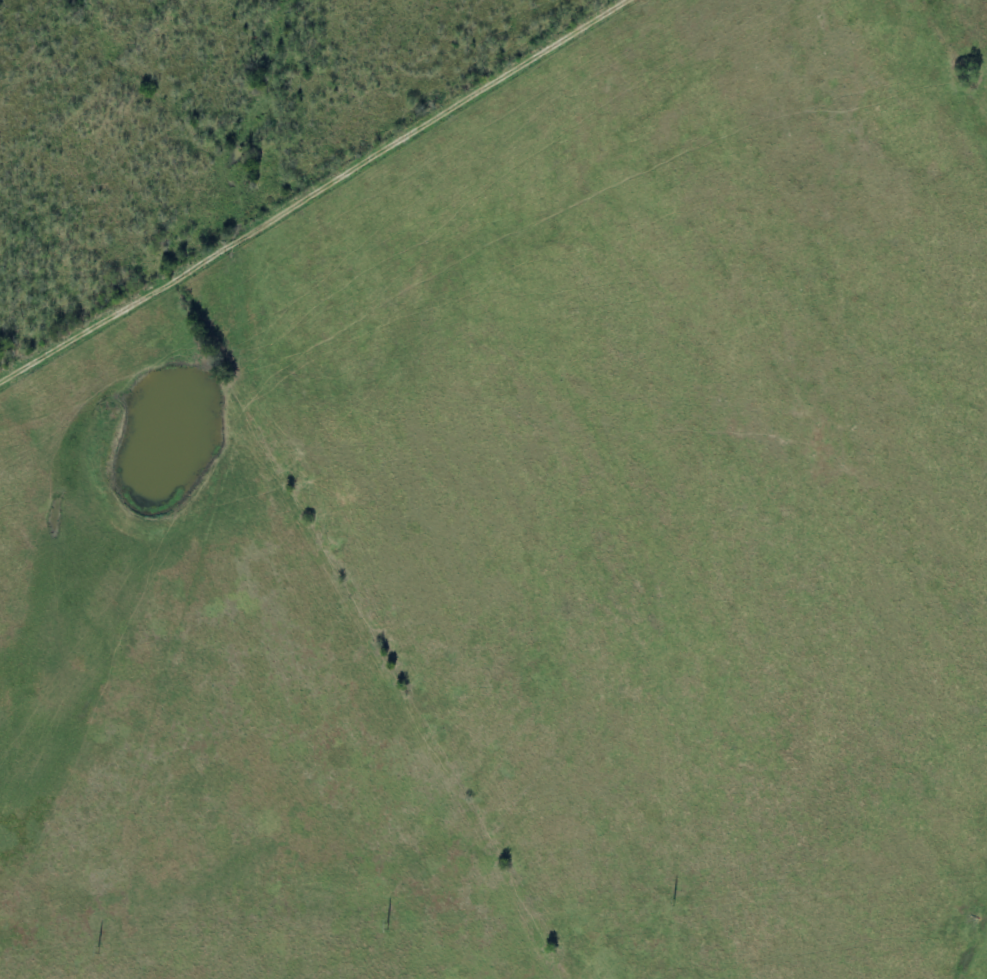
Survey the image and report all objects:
power tower: (674, 900)
power tower: (387, 924)
power tower: (98, 949)

